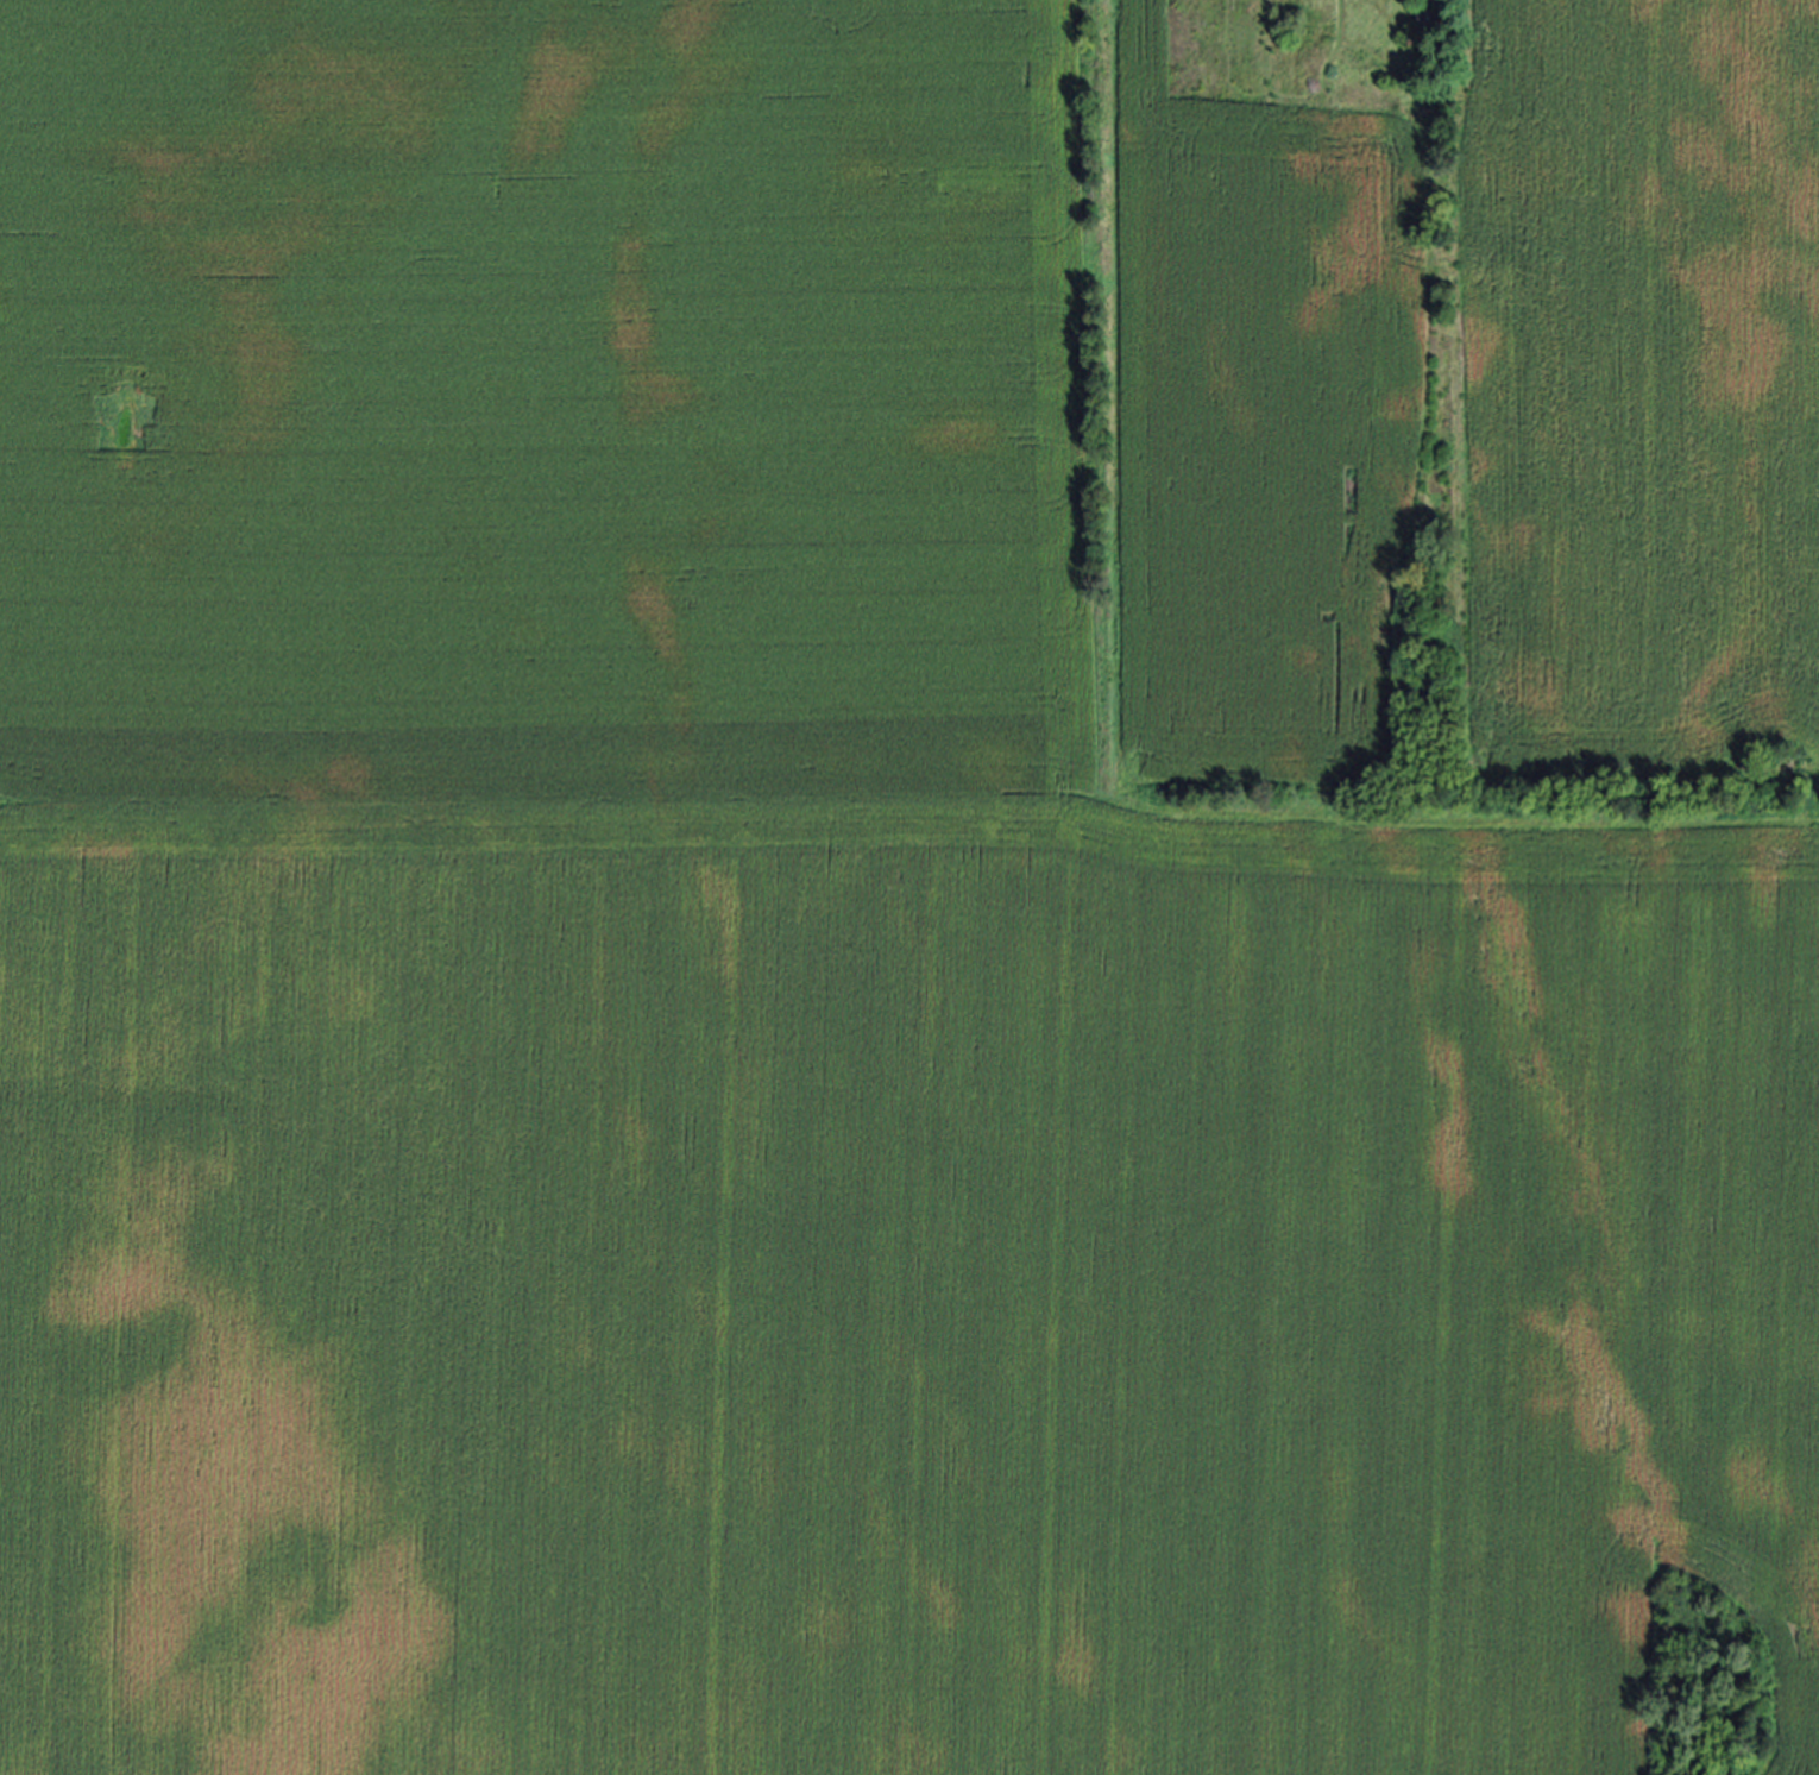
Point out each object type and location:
building: (1424, 23)

